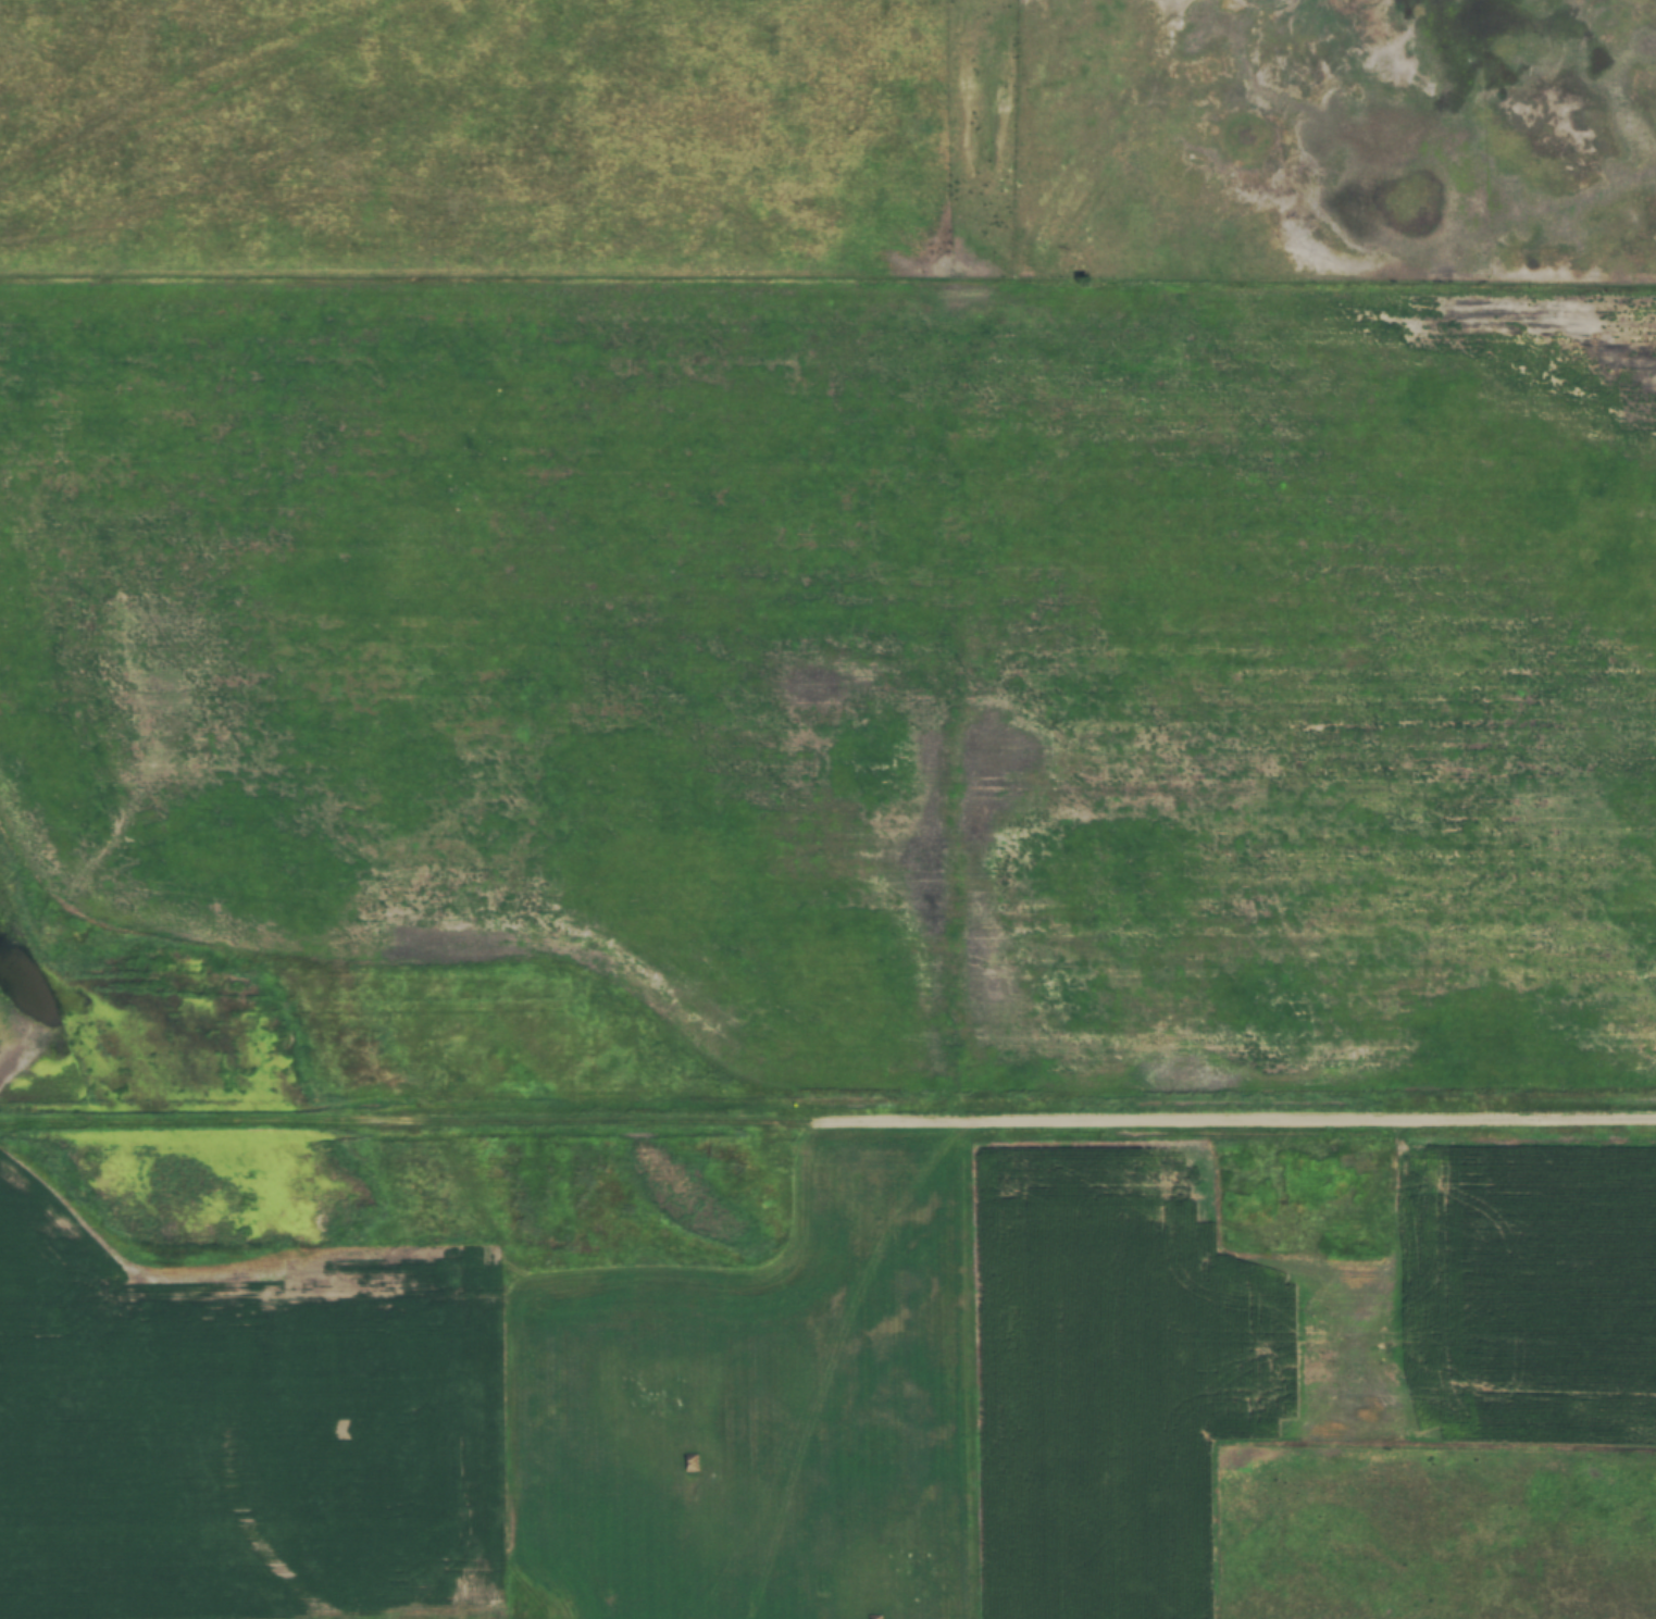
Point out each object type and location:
road: (827, 1126)

